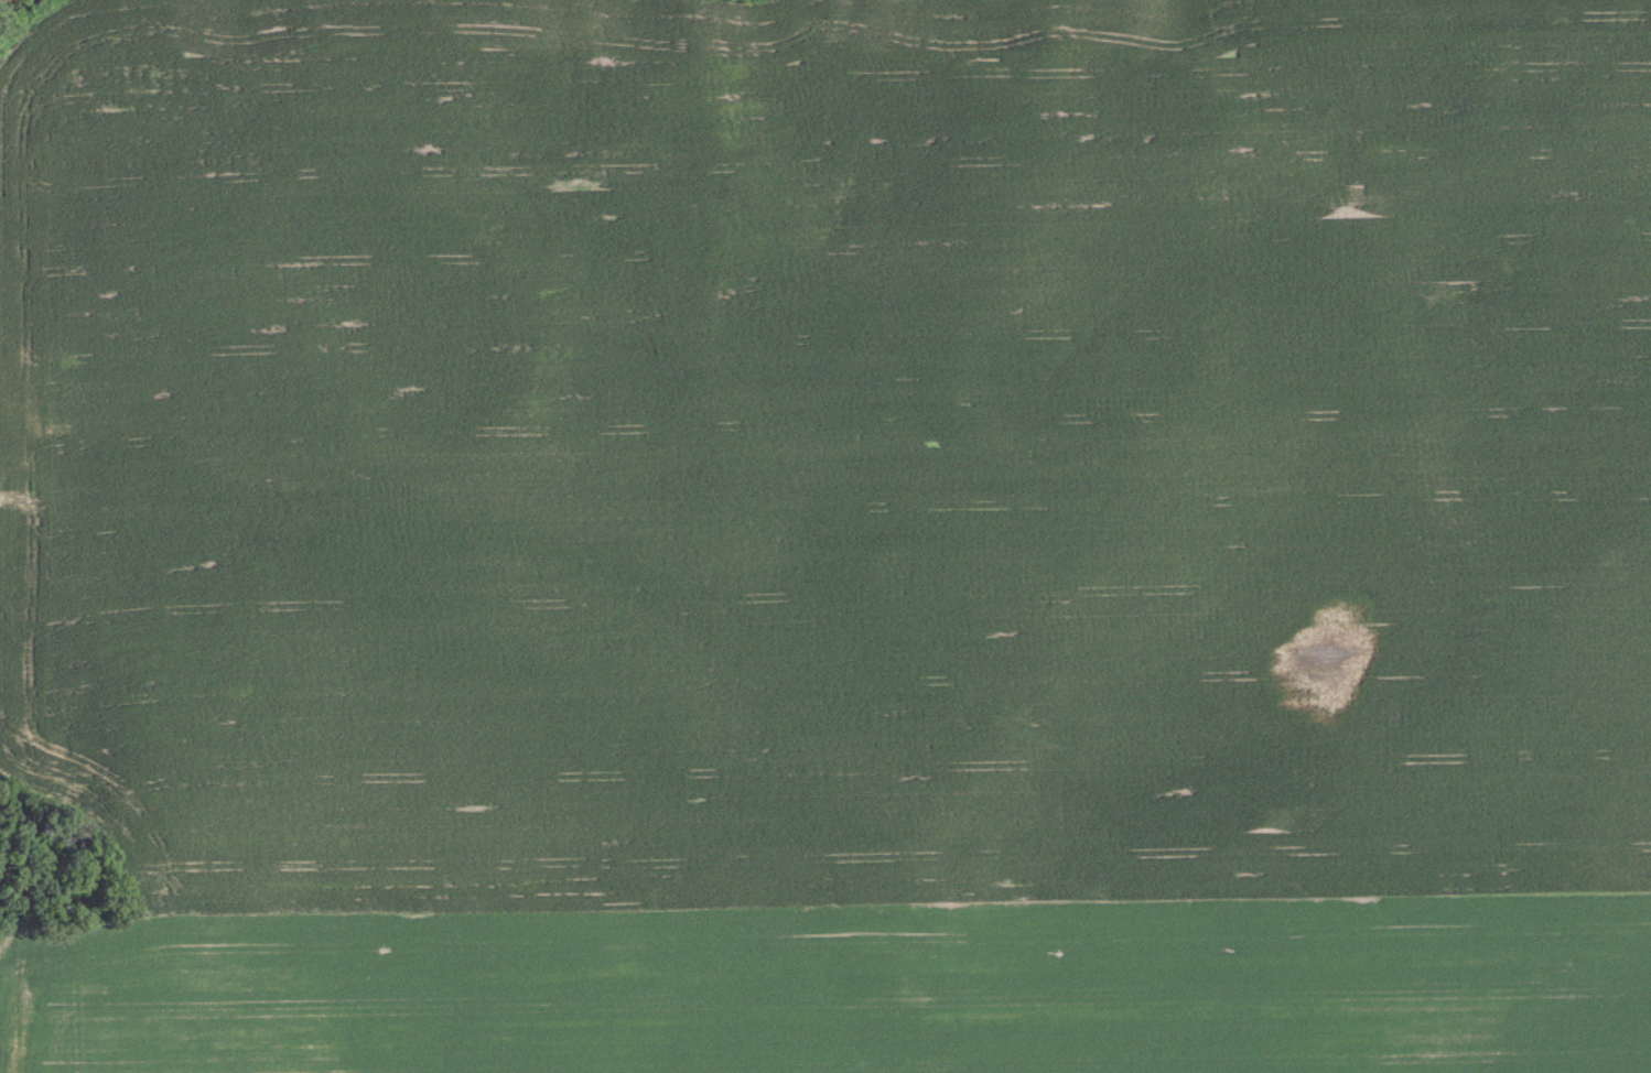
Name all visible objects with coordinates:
crop: (825, 536)

